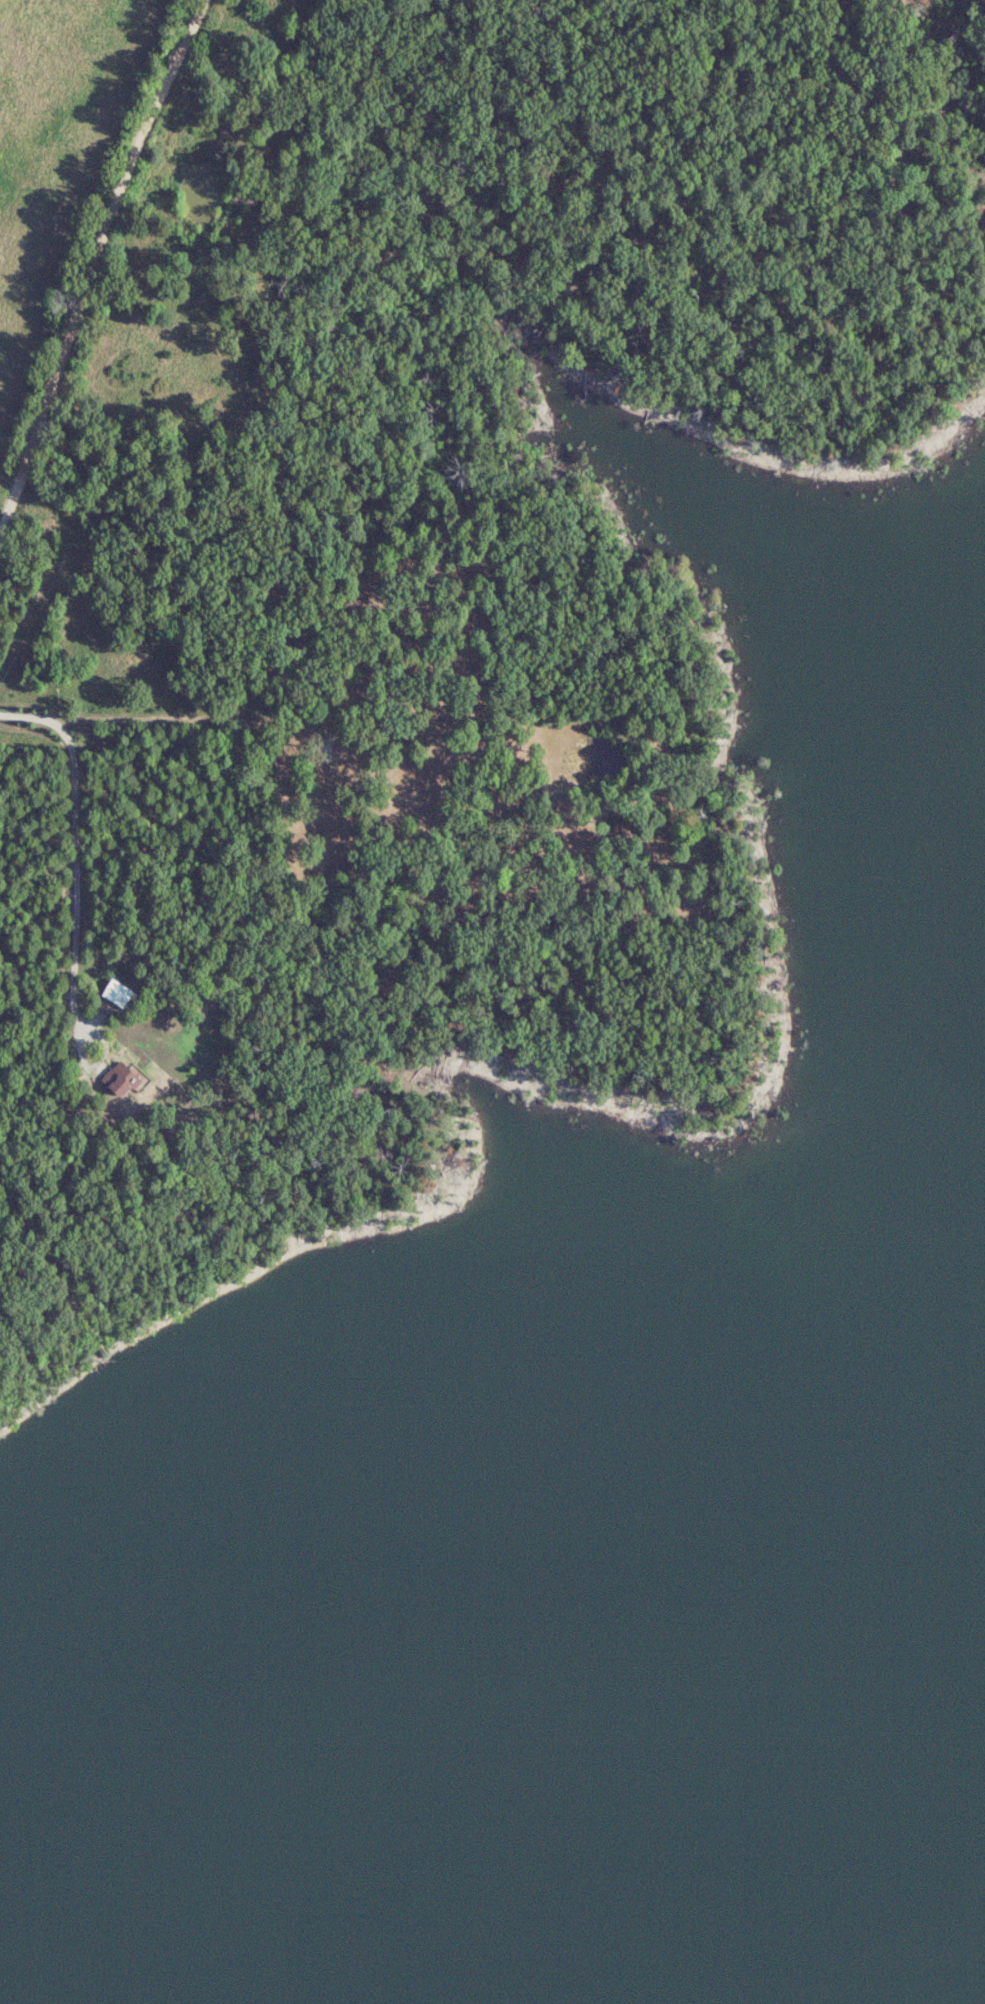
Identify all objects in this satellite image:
road: (90, 262)
road: (76, 850)
building: (118, 992)
building: (123, 1077)

